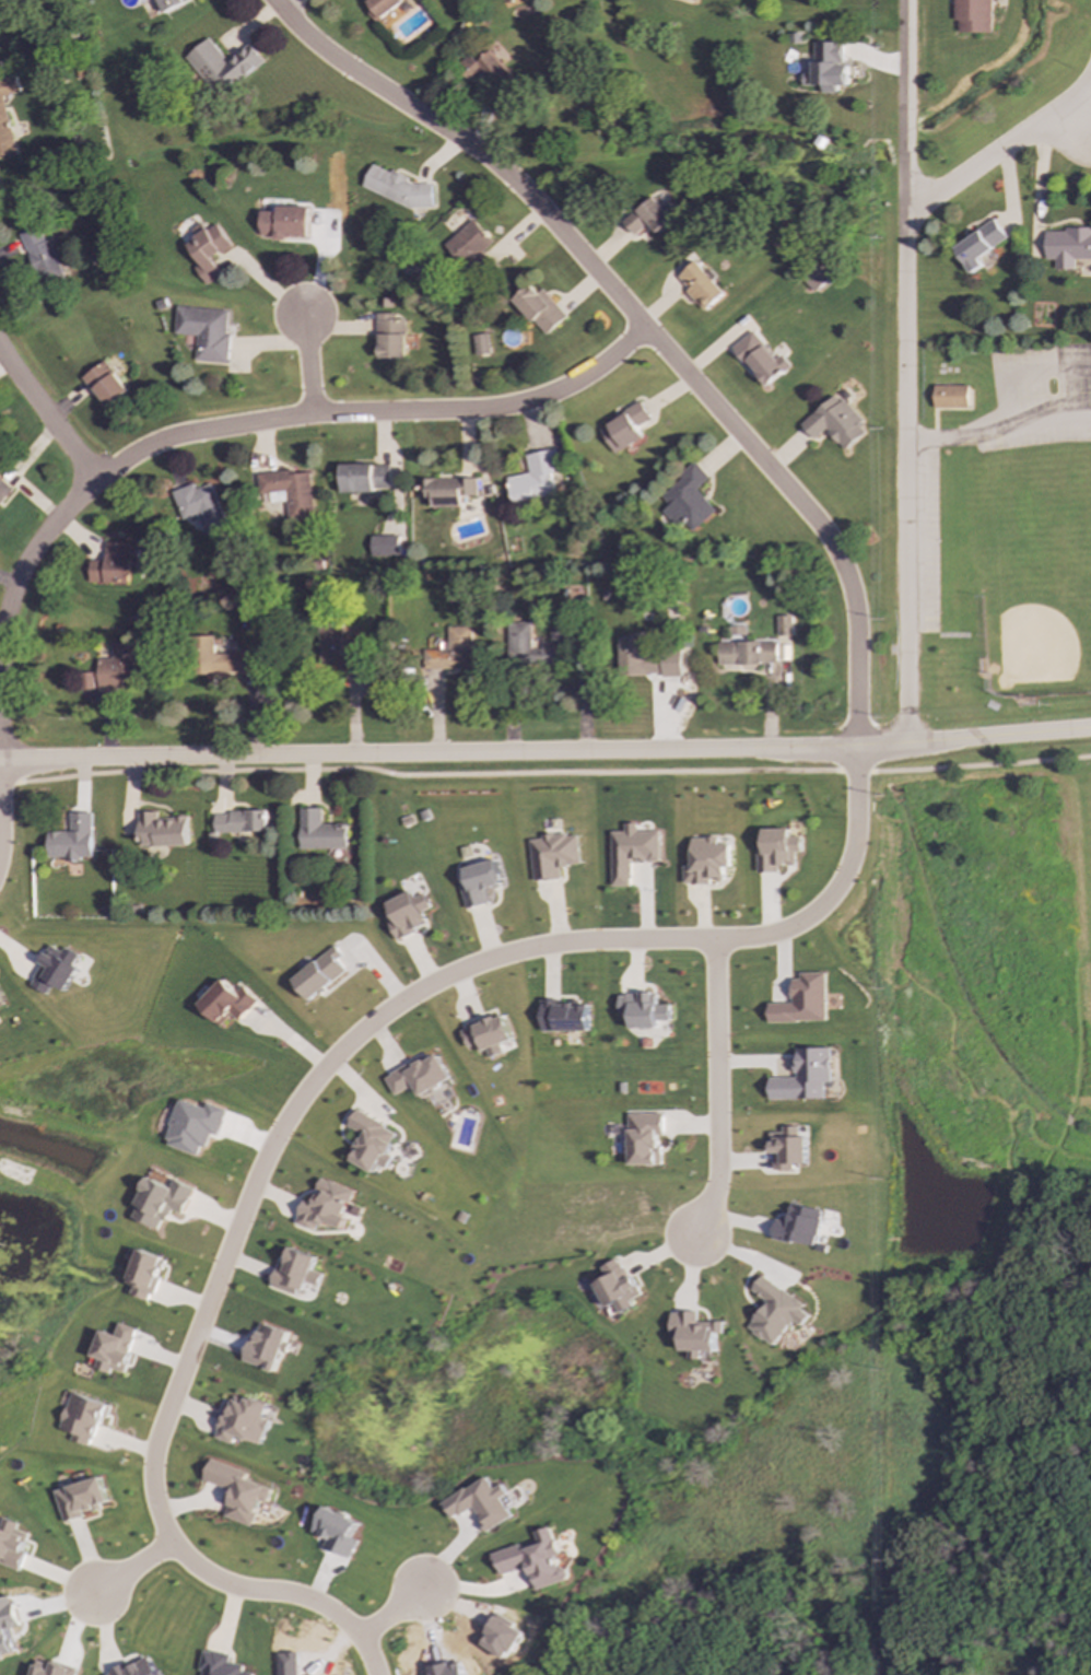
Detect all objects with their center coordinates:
building: (171, 4)
road: (285, 4)
building: (973, 15)
building: (221, 65)
building: (828, 67)
building: (485, 69)
building: (5, 115)
road: (1001, 150)
road: (1040, 187)
building: (398, 188)
building: (647, 216)
building: (284, 222)
building: (468, 244)
building: (978, 245)
building: (1067, 246)
building: (208, 251)
building: (40, 255)
building: (816, 277)
building: (700, 285)
building: (538, 308)
road: (642, 326)
building: (204, 331)
building: (390, 337)
building: (481, 344)
building: (761, 359)
road: (307, 365)
road: (905, 372)
road: (1020, 373)
building: (104, 384)
building: (951, 397)
parking lot: (1036, 398)
road: (46, 417)
road: (1048, 418)
road: (272, 421)
building: (835, 422)
building: (624, 427)
road: (957, 433)
building: (364, 477)
building: (533, 477)
building: (2, 489)
building: (289, 490)
building: (447, 490)
building: (687, 500)
building: (200, 507)
building: (110, 564)
park: (1034, 599)
building: (783, 625)
building: (561, 631)
building: (737, 633)
building: (529, 647)
building: (451, 649)
building: (339, 651)
building: (747, 653)
building: (223, 658)
building: (645, 659)
building: (116, 667)
road: (545, 751)
road: (979, 763)
road: (854, 771)
road: (426, 774)
road: (7, 782)
building: (241, 822)
road: (0, 829)
building: (161, 830)
building: (321, 831)
building: (72, 839)
building: (777, 850)
building: (631, 852)
building: (553, 855)
building: (706, 862)
building: (480, 883)
building: (406, 916)
building: (55, 970)
building: (320, 973)
building: (801, 1000)
building: (228, 1003)
building: (1, 1004)
building: (643, 1009)
building: (563, 1016)
park: (999, 1026)
building: (488, 1033)
building: (420, 1076)
building: (803, 1076)
road: (305, 1091)
road: (715, 1091)
building: (193, 1126)
building: (645, 1138)
building: (372, 1143)
building: (787, 1149)
building: (161, 1202)
building: (327, 1206)
building: (799, 1226)
building: (297, 1273)
building: (145, 1274)
building: (617, 1288)
building: (775, 1311)
building: (694, 1332)
building: (115, 1348)
building: (83, 1418)
building: (243, 1420)
building: (237, 1491)
building: (80, 1498)
building: (480, 1503)
building: (337, 1532)
building: (12, 1544)
building: (535, 1560)
road: (126, 1563)
road: (395, 1613)
building: (7, 1625)
building: (219, 1664)
building: (136, 1668)
building: (51, 1670)

